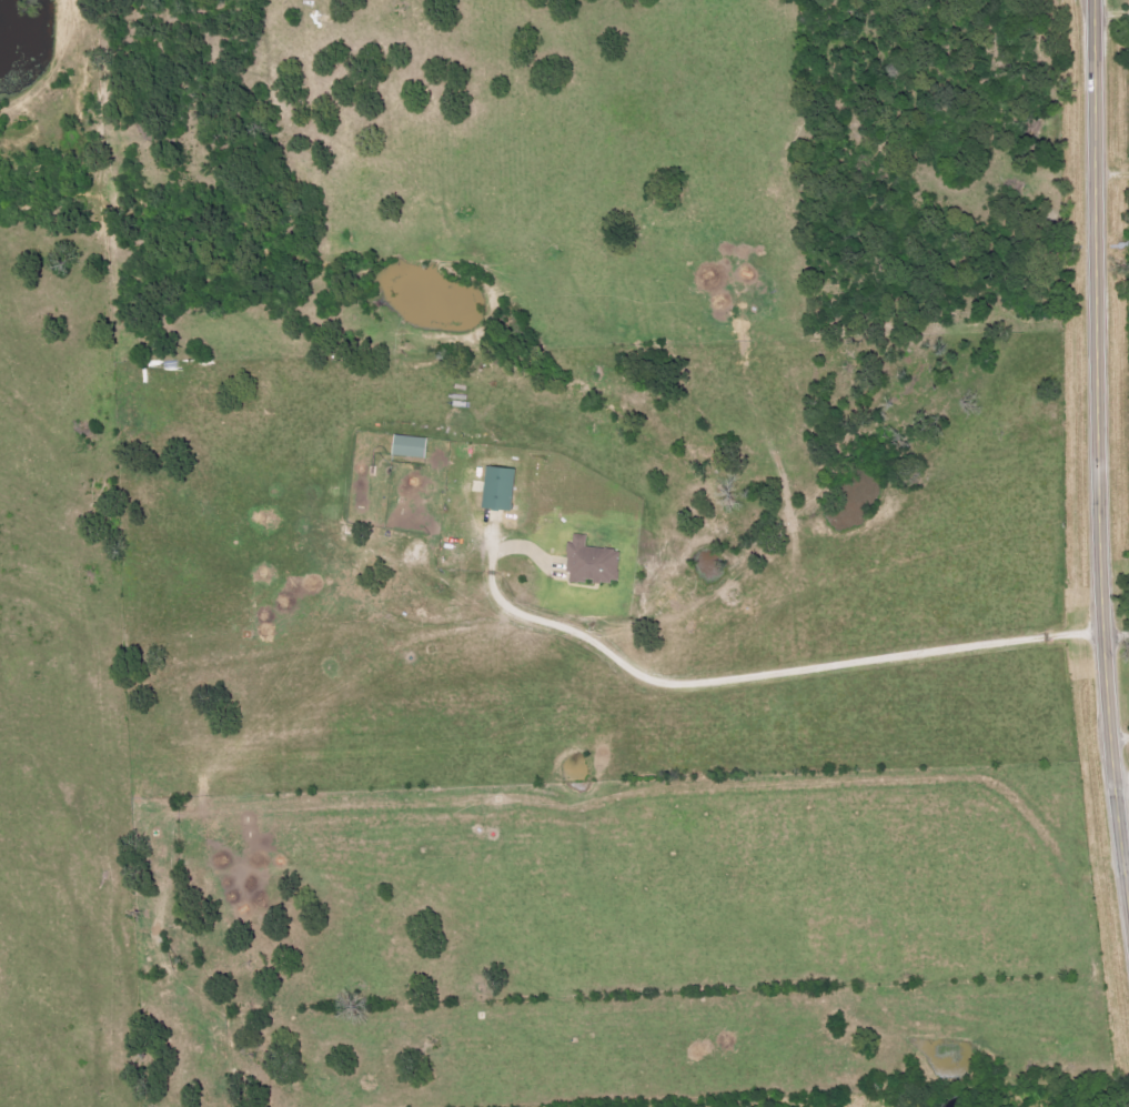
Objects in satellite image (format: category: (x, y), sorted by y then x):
building: (414, 446)
road: (1100, 453)
building: (504, 489)
building: (597, 563)

